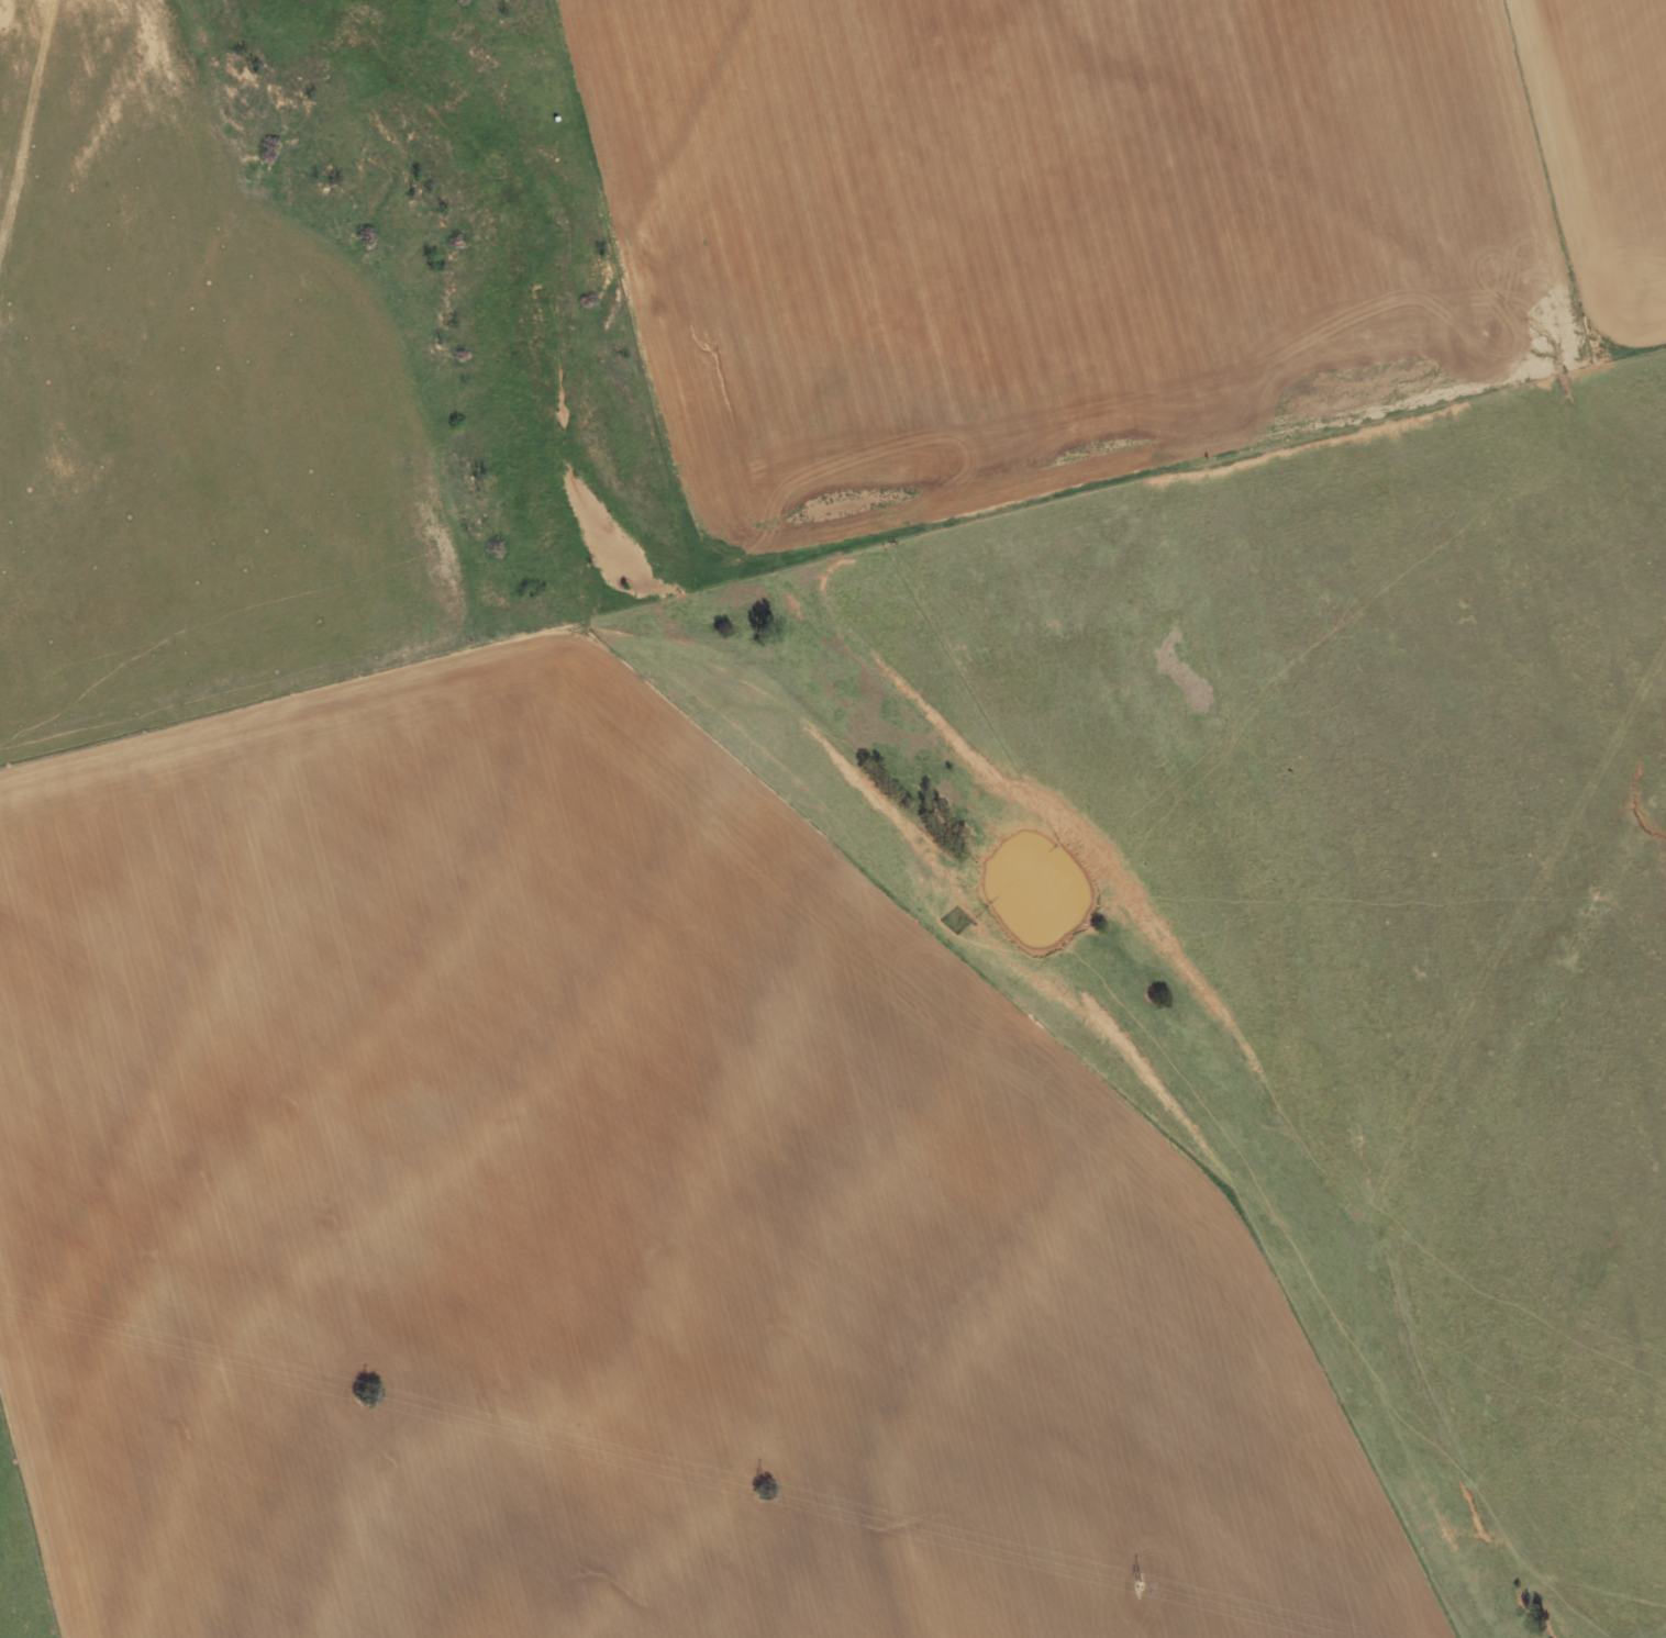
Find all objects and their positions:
power tower: (365, 1393)
power tower: (764, 1490)
power tower: (1139, 1586)

